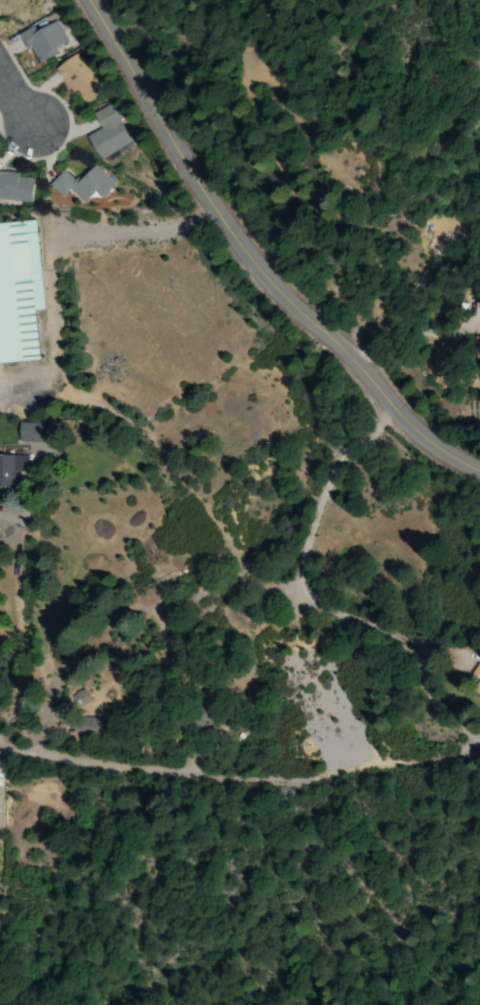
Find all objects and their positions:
building: (37, 42)
building: (71, 80)
road: (16, 102)
building: (101, 132)
building: (78, 185)
building: (14, 186)
road: (251, 264)
building: (19, 297)
building: (477, 348)
building: (33, 432)
building: (11, 470)
road: (240, 778)

